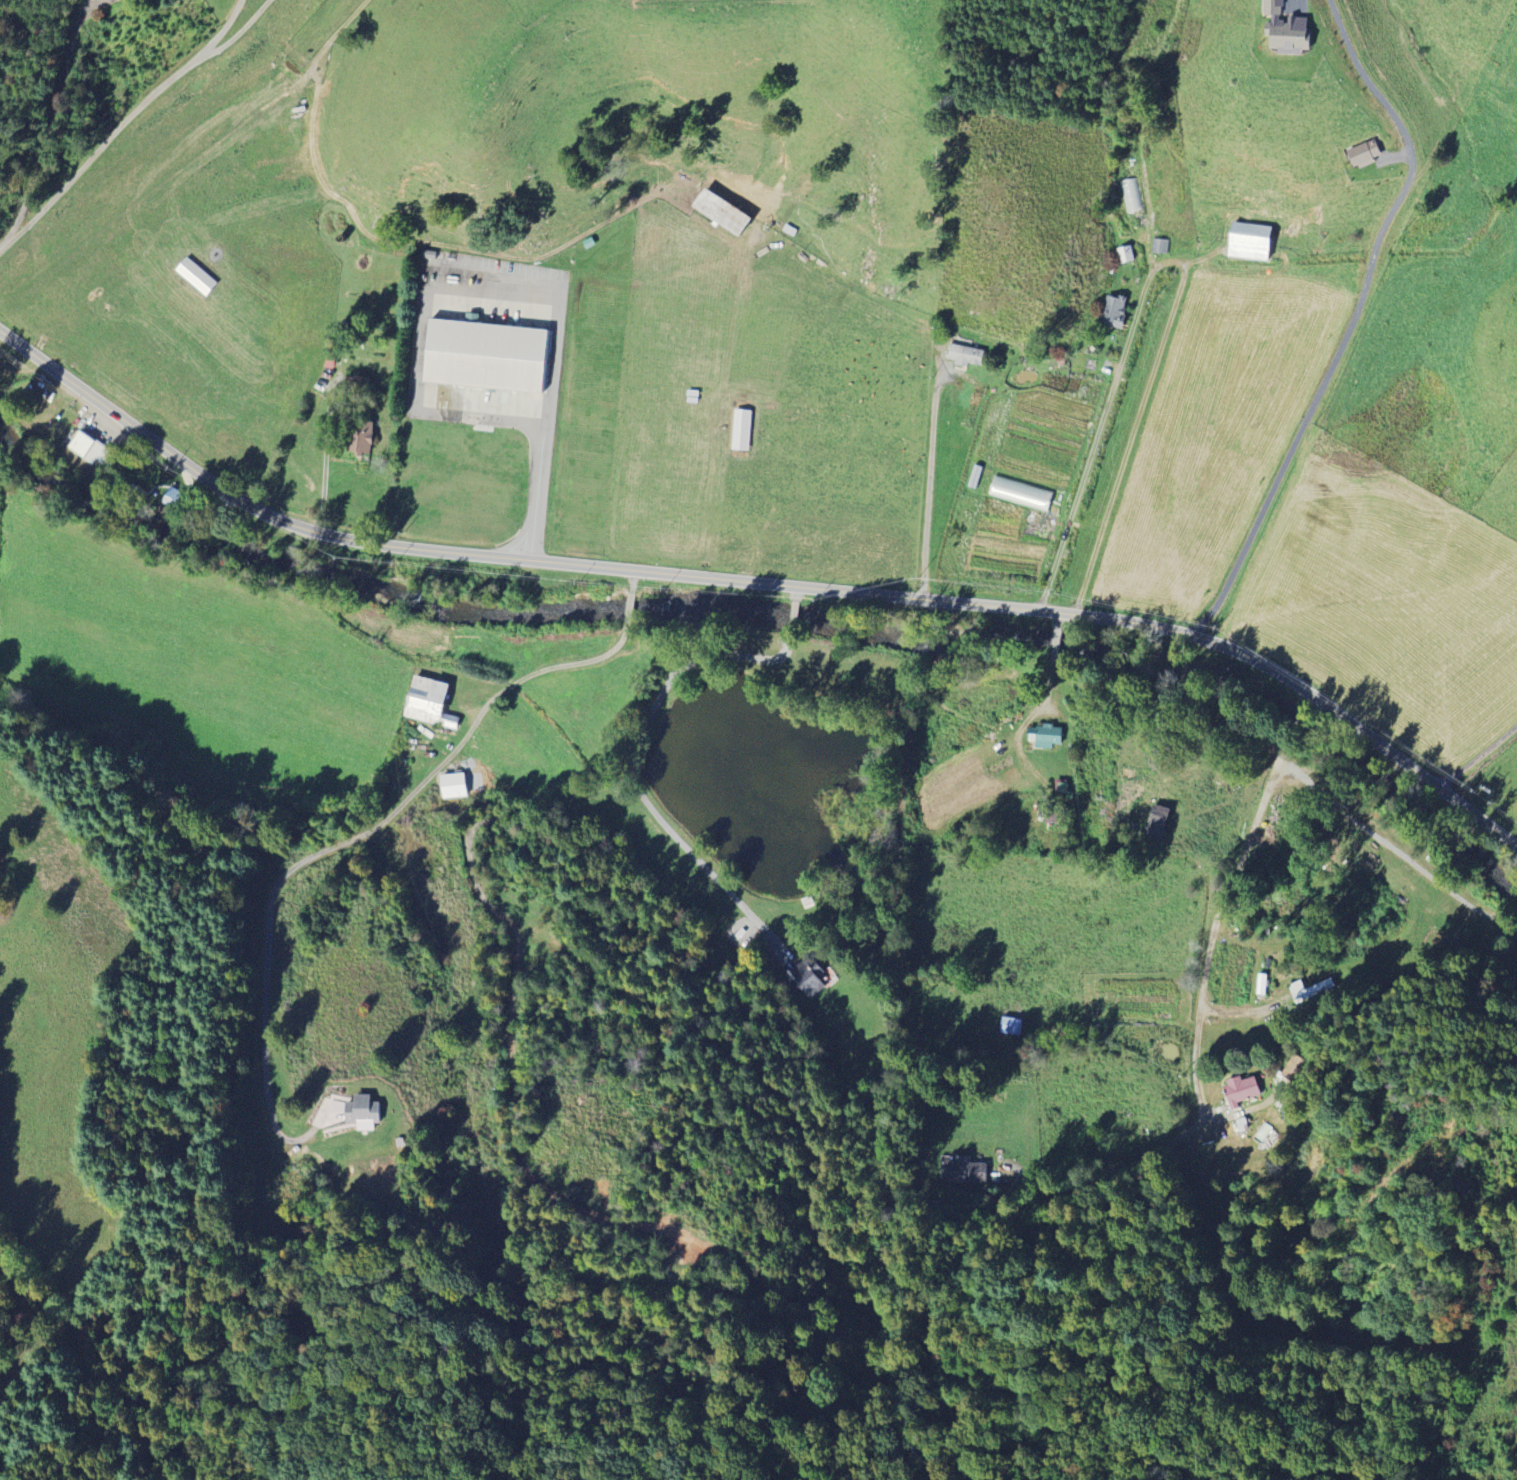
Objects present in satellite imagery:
building: (1284, 29)
road: (122, 125)
building: (1363, 154)
building: (1132, 196)
building: (721, 212)
building: (1249, 242)
building: (1160, 247)
building: (1126, 255)
building: (195, 276)
building: (1113, 312)
road: (1354, 321)
building: (964, 355)
building: (487, 356)
building: (330, 357)
road: (553, 374)
road: (491, 412)
building: (741, 430)
building: (360, 437)
road: (1097, 441)
building: (88, 448)
road: (931, 469)
building: (1020, 493)
building: (173, 498)
road: (634, 583)
road: (760, 584)
road: (630, 613)
building: (428, 702)
road: (1314, 703)
road: (1299, 722)
building: (1044, 737)
road: (1480, 758)
building: (452, 786)
building: (1051, 819)
building: (1156, 821)
road: (368, 837)
road: (1208, 923)
building: (806, 978)
building: (1261, 984)
building: (1307, 991)
building: (1010, 1026)
building: (1241, 1090)
building: (361, 1113)
building: (965, 1170)

